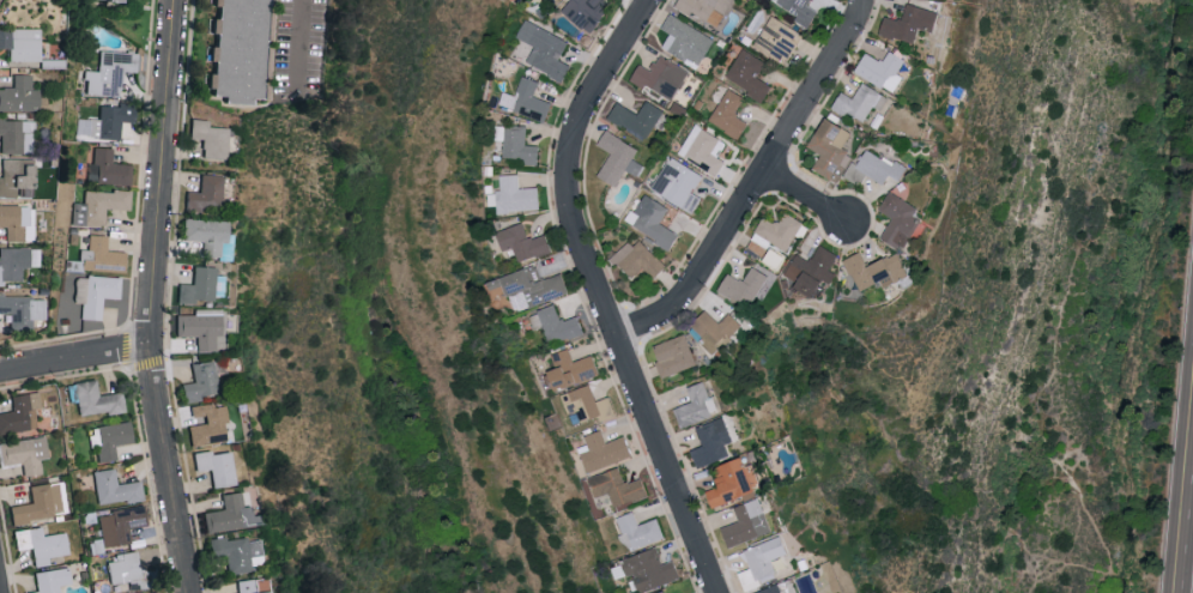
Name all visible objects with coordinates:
building: (120, 0)
building: (708, 10)
building: (801, 10)
building: (589, 11)
building: (912, 23)
building: (780, 38)
building: (689, 40)
building: (22, 43)
road: (297, 48)
building: (244, 49)
building: (547, 49)
building: (884, 69)
building: (110, 72)
building: (750, 73)
building: (662, 77)
building: (20, 95)
building: (859, 102)
building: (729, 111)
building: (638, 116)
building: (108, 120)
building: (17, 134)
building: (211, 138)
building: (520, 145)
building: (831, 146)
building: (704, 150)
building: (617, 156)
building: (109, 168)
building: (874, 169)
building: (17, 177)
building: (679, 183)
road: (755, 186)
building: (207, 193)
building: (516, 194)
road: (805, 198)
building: (101, 205)
building: (654, 219)
building: (901, 219)
building: (18, 220)
building: (783, 229)
building: (210, 235)
building: (525, 241)
building: (103, 255)
building: (640, 258)
building: (14, 262)
building: (812, 268)
building: (878, 270)
building: (746, 284)
building: (202, 285)
building: (535, 286)
road: (598, 292)
building: (96, 294)
road: (153, 297)
building: (24, 309)
building: (558, 323)
building: (204, 327)
building: (716, 329)
building: (677, 355)
road: (75, 359)
building: (575, 368)
building: (201, 381)
building: (97, 399)
building: (589, 404)
building: (697, 404)
building: (20, 412)
building: (207, 424)
building: (110, 438)
building: (714, 441)
building: (604, 449)
building: (25, 452)
building: (216, 465)
building: (734, 480)
building: (116, 486)
building: (620, 486)
road: (1185, 500)
building: (40, 503)
building: (229, 512)
building: (747, 522)
building: (121, 525)
building: (640, 530)
building: (43, 543)
building: (235, 552)
building: (764, 561)
building: (126, 567)
building: (652, 569)
building: (52, 580)
building: (252, 585)
building: (776, 588)
building: (156, 592)
building: (666, 592)

